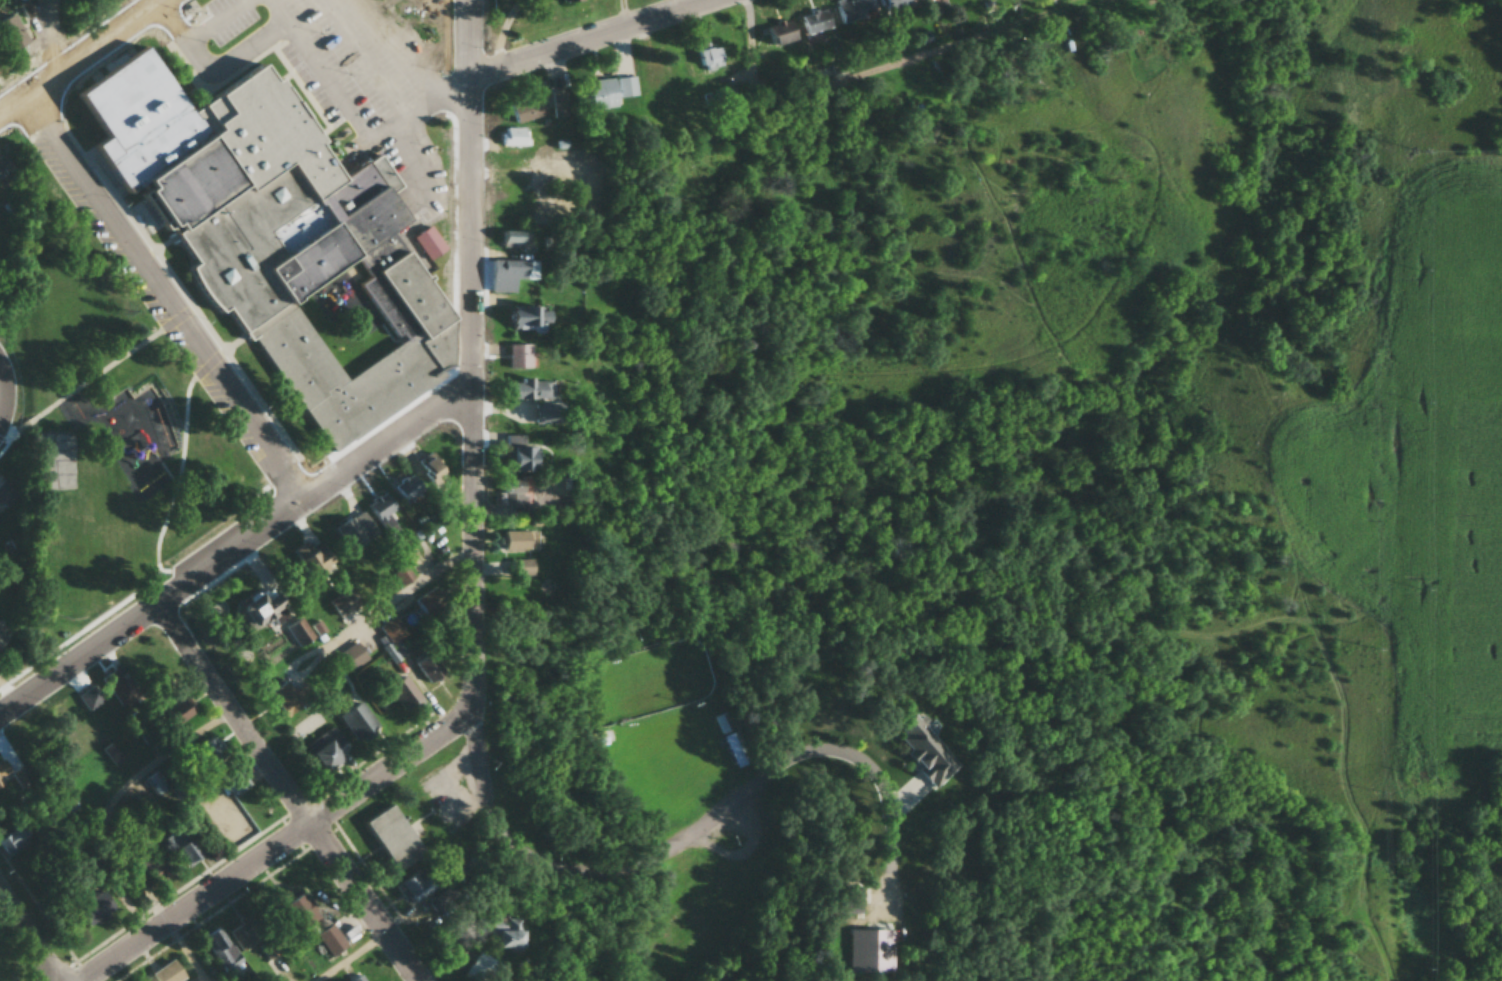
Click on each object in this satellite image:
building: (569, 0)
building: (893, 3)
building: (851, 10)
building: (813, 21)
building: (777, 33)
building: (10, 34)
road: (582, 36)
road: (55, 41)
road: (83, 58)
building: (708, 58)
building: (604, 91)
building: (719, 97)
building: (557, 104)
building: (524, 110)
building: (515, 138)
building: (4, 166)
building: (511, 167)
building: (514, 211)
building: (269, 233)
building: (514, 241)
building: (427, 243)
building: (509, 274)
road: (165, 296)
building: (527, 320)
building: (518, 356)
road: (3, 379)
road: (80, 383)
building: (528, 389)
road: (3, 415)
building: (517, 457)
building: (429, 469)
road: (182, 476)
building: (406, 487)
building: (382, 514)
building: (353, 530)
building: (512, 540)
road: (234, 548)
road: (476, 556)
building: (518, 566)
building: (402, 573)
road: (403, 595)
building: (342, 601)
building: (258, 609)
building: (296, 630)
building: (392, 638)
building: (351, 656)
road: (10, 691)
building: (401, 693)
building: (287, 697)
building: (175, 711)
road: (243, 714)
building: (354, 719)
building: (597, 740)
building: (732, 740)
building: (925, 750)
building: (324, 751)
building: (206, 752)
building: (3, 770)
building: (231, 780)
building: (389, 838)
building: (14, 841)
road: (286, 849)
building: (179, 850)
building: (152, 866)
building: (414, 885)
road: (152, 902)
building: (850, 903)
road: (377, 904)
building: (93, 907)
building: (291, 910)
building: (503, 933)
road: (31, 936)
building: (330, 940)
building: (219, 948)
building: (870, 951)
building: (480, 969)
building: (175, 972)
building: (142, 979)

